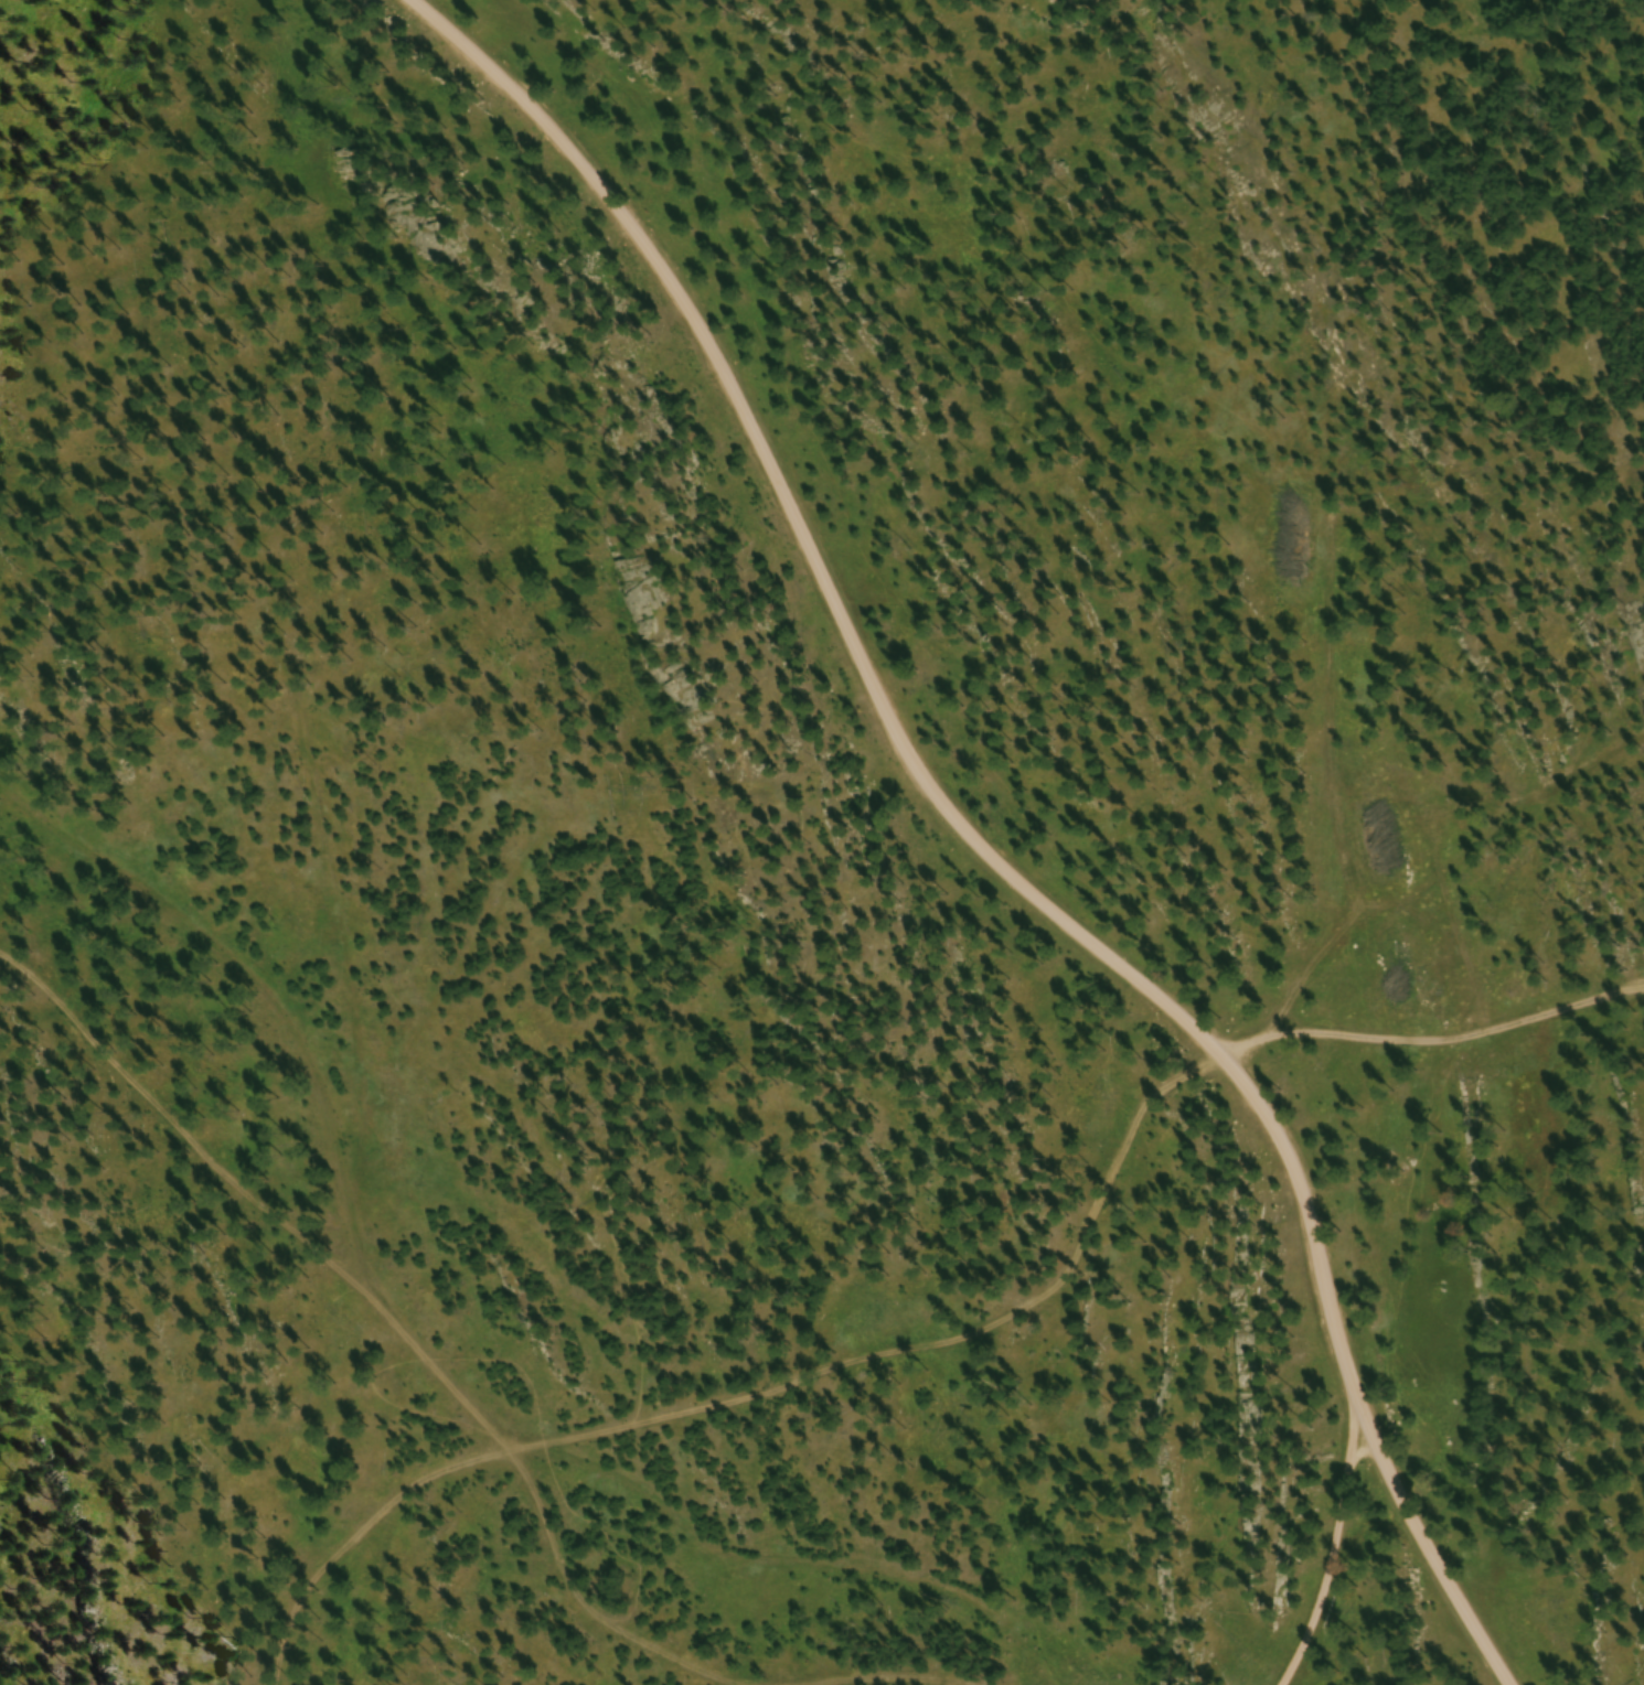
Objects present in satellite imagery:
road: (877, 709)
road: (1431, 1033)
road: (586, 1428)
road: (352, 1531)
road: (1416, 1544)
road: (1328, 1545)

